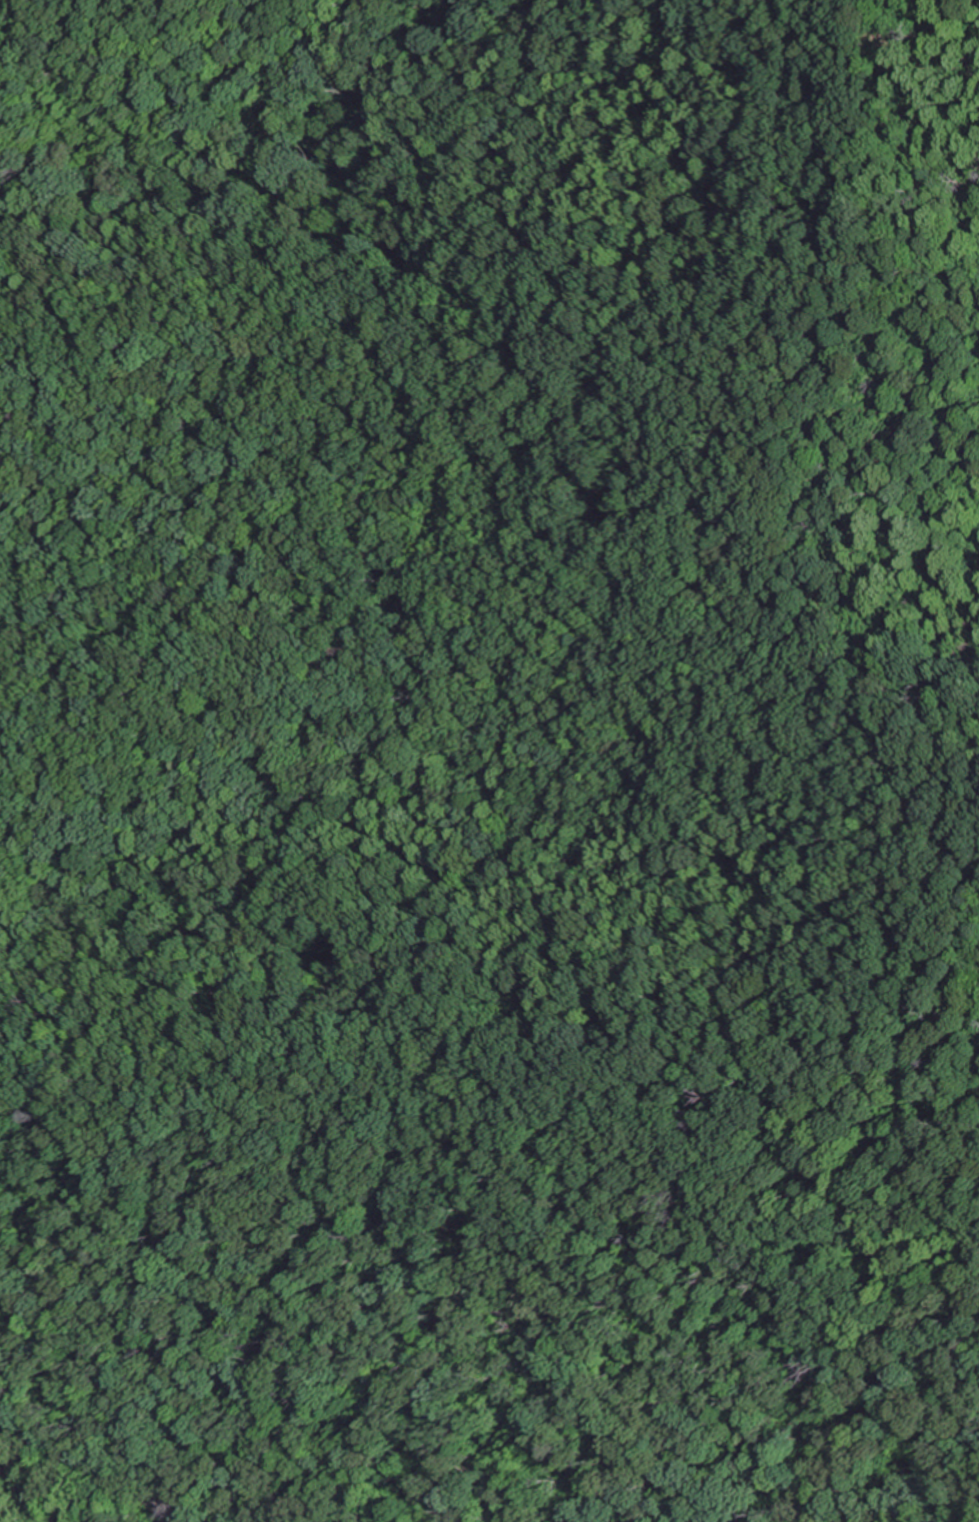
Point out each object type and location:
road: (92, 1462)

